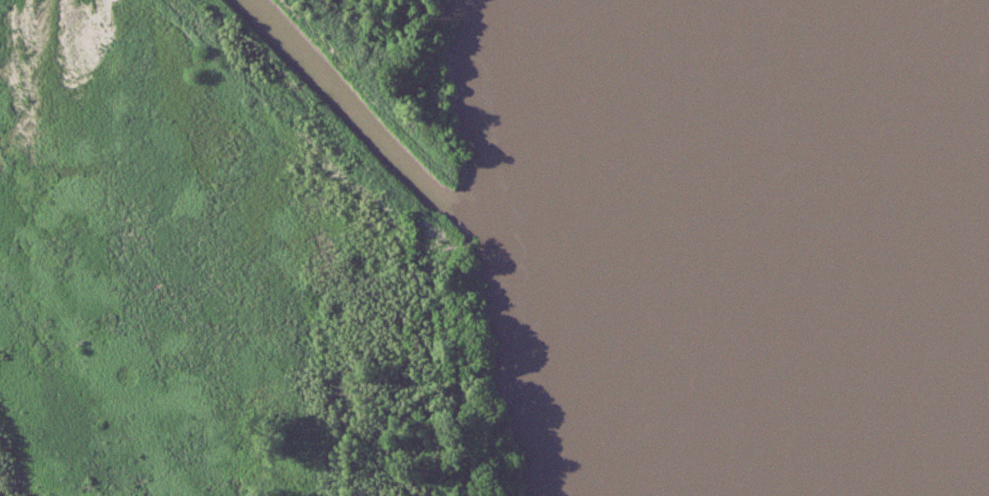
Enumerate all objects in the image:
river: (875, 248)

